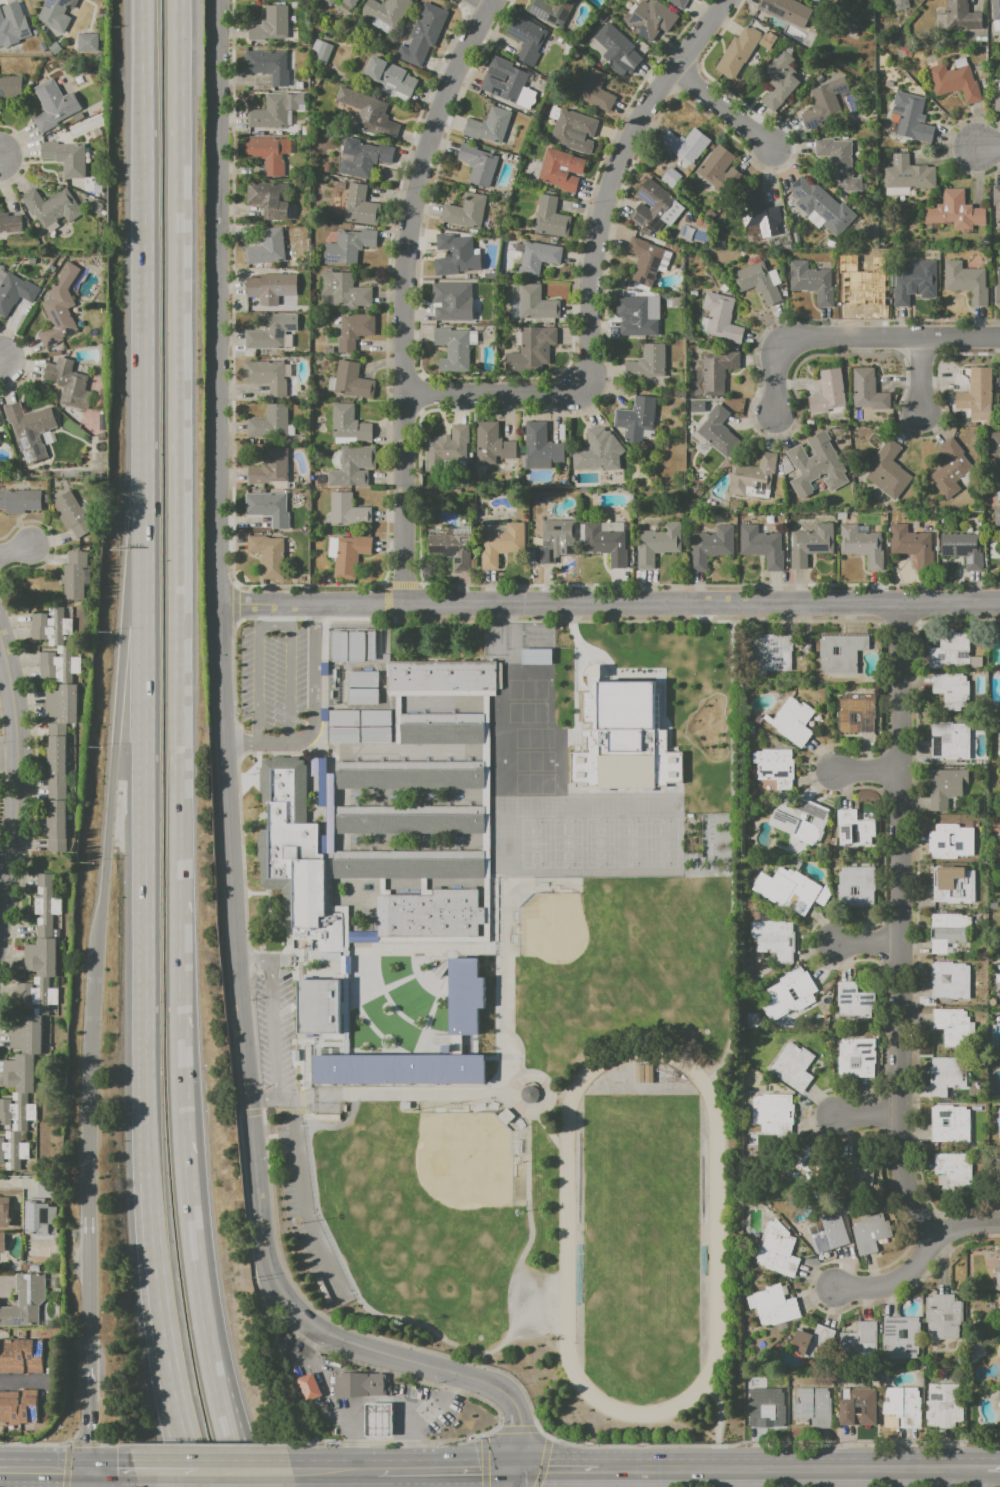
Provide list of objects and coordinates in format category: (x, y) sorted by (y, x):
building: (330, 1)
building: (349, 2)
road: (487, 2)
building: (676, 3)
building: (900, 4)
building: (995, 9)
building: (385, 10)
building: (551, 10)
building: (787, 12)
building: (56, 14)
building: (960, 16)
building: (648, 18)
building: (271, 25)
building: (13, 30)
building: (424, 35)
building: (527, 38)
building: (770, 41)
building: (88, 42)
building: (617, 47)
building: (322, 51)
building: (737, 53)
building: (269, 65)
road: (148, 75)
building: (390, 76)
building: (504, 79)
building: (779, 82)
building: (953, 82)
building: (11, 87)
building: (593, 89)
building: (997, 100)
building: (823, 104)
building: (54, 105)
road: (722, 111)
building: (270, 113)
building: (368, 114)
building: (911, 118)
building: (489, 125)
building: (573, 131)
building: (683, 146)
road: (988, 147)
building: (266, 154)
building: (66, 157)
road: (2, 159)
building: (367, 159)
building: (838, 163)
building: (478, 164)
building: (719, 169)
building: (559, 170)
building: (907, 177)
road: (610, 178)
building: (671, 178)
building: (267, 199)
building: (814, 199)
building: (996, 202)
building: (359, 206)
building: (52, 207)
building: (650, 207)
building: (465, 211)
building: (953, 213)
building: (757, 215)
building: (550, 217)
building: (10, 222)
building: (786, 235)
building: (786, 245)
building: (267, 247)
building: (350, 247)
building: (455, 255)
building: (537, 258)
building: (644, 261)
building: (912, 280)
building: (756, 282)
building: (811, 282)
building: (966, 282)
building: (865, 285)
building: (272, 287)
building: (997, 289)
building: (14, 291)
building: (343, 291)
road: (404, 293)
building: (450, 299)
building: (535, 303)
building: (60, 307)
building: (636, 315)
building: (720, 319)
building: (355, 330)
building: (267, 333)
road: (857, 337)
building: (528, 347)
building: (453, 349)
building: (648, 362)
road: (3, 363)
building: (717, 372)
road: (921, 372)
building: (267, 375)
road: (148, 378)
building: (999, 378)
building: (352, 380)
building: (69, 382)
building: (975, 390)
building: (867, 391)
building: (828, 392)
road: (491, 393)
building: (697, 407)
building: (636, 418)
building: (1, 420)
building: (30, 420)
building: (271, 422)
building: (349, 425)
building: (717, 429)
building: (0, 440)
building: (492, 443)
building: (540, 444)
building: (995, 444)
building: (449, 446)
building: (592, 450)
building: (352, 465)
building: (813, 466)
building: (271, 467)
building: (951, 467)
building: (888, 471)
building: (753, 474)
building: (998, 491)
road: (177, 499)
building: (20, 501)
building: (269, 507)
building: (348, 510)
building: (74, 514)
building: (997, 516)
building: (555, 539)
building: (910, 543)
building: (500, 544)
building: (605, 544)
building: (658, 544)
building: (810, 544)
building: (710, 545)
building: (862, 545)
building: (761, 546)
building: (452, 547)
building: (963, 549)
building: (348, 553)
road: (16, 554)
building: (269, 555)
building: (75, 574)
road: (607, 604)
road: (315, 614)
building: (53, 625)
road: (273, 627)
building: (352, 646)
building: (950, 651)
building: (841, 653)
building: (771, 654)
building: (535, 656)
building: (59, 664)
building: (442, 676)
parking lot: (279, 683)
building: (362, 687)
building: (951, 689)
building: (63, 703)
road: (311, 703)
building: (857, 713)
building: (790, 722)
building: (359, 726)
building: (442, 733)
building: (621, 737)
building: (949, 740)
road: (242, 741)
road: (7, 756)
building: (774, 767)
building: (57, 768)
road: (869, 769)
road: (13, 772)
road: (112, 773)
building: (410, 774)
building: (945, 787)
road: (1, 797)
road: (230, 813)
building: (410, 820)
building: (805, 822)
building: (57, 825)
building: (854, 829)
building: (950, 841)
park: (566, 842)
park: (630, 842)
park: (663, 842)
park: (534, 843)
park: (599, 843)
building: (294, 851)
building: (408, 864)
road: (3, 878)
building: (954, 885)
building: (857, 886)
building: (787, 890)
road: (147, 893)
building: (46, 905)
building: (432, 914)
road: (902, 925)
building: (947, 931)
building: (773, 939)
road: (868, 940)
park: (584, 948)
building: (41, 957)
road: (255, 962)
building: (950, 981)
building: (790, 994)
building: (36, 995)
building: (463, 995)
building: (854, 1002)
building: (315, 1010)
building: (752, 1020)
building: (953, 1026)
road: (274, 1030)
building: (26, 1034)
building: (856, 1058)
building: (791, 1063)
building: (398, 1068)
building: (644, 1073)
building: (20, 1074)
building: (947, 1074)
building: (529, 1094)
road: (413, 1097)
road: (262, 1098)
road: (296, 1098)
road: (512, 1099)
building: (17, 1111)
building: (772, 1113)
road: (866, 1114)
building: (999, 1123)
building: (950, 1124)
building: (14, 1149)
road: (91, 1159)
building: (798, 1168)
building: (954, 1171)
park: (455, 1175)
building: (849, 1177)
road: (181, 1189)
road: (304, 1200)
building: (5, 1216)
building: (41, 1217)
track: (640, 1231)
track: (566, 1232)
building: (827, 1232)
building: (870, 1232)
building: (2, 1241)
building: (777, 1251)
road: (919, 1260)
road: (157, 1262)
building: (998, 1278)
building: (24, 1301)
building: (775, 1305)
building: (943, 1317)
road: (428, 1329)
building: (900, 1337)
building: (859, 1341)
building: (813, 1343)
road: (283, 1354)
building: (21, 1355)
road: (494, 1369)
road: (23, 1383)
building: (359, 1385)
building: (308, 1388)
building: (999, 1392)
road: (485, 1401)
building: (999, 1403)
building: (814, 1406)
building: (858, 1406)
building: (903, 1406)
building: (943, 1406)
building: (765, 1407)
building: (18, 1408)
road: (180, 1414)
road: (89, 1417)
road: (353, 1418)
building: (375, 1422)
gas station: (375, 1422)
road: (216, 1423)
road: (718, 1425)
road: (496, 1429)
road: (518, 1429)
road: (543, 1433)
road: (483, 1434)
road: (413, 1441)
road: (69, 1442)
road: (336, 1442)
road: (43, 1443)
road: (82, 1443)
road: (111, 1444)
road: (206, 1445)
road: (483, 1462)
road: (542, 1462)
road: (66, 1464)
road: (791, 1465)
road: (992, 1465)
road: (14, 1466)
road: (57, 1466)
road: (398, 1466)
road: (468, 1466)
traffic signals: (513, 1466)
road: (555, 1466)
traffic signals: (86, 1467)
road: (109, 1467)
road: (166, 1467)
road: (244, 1467)
road: (332, 1467)
road: (242, 1475)
road: (28, 1476)
road: (432, 1476)
road: (511, 1476)
road: (88, 1477)
road: (227, 1477)

